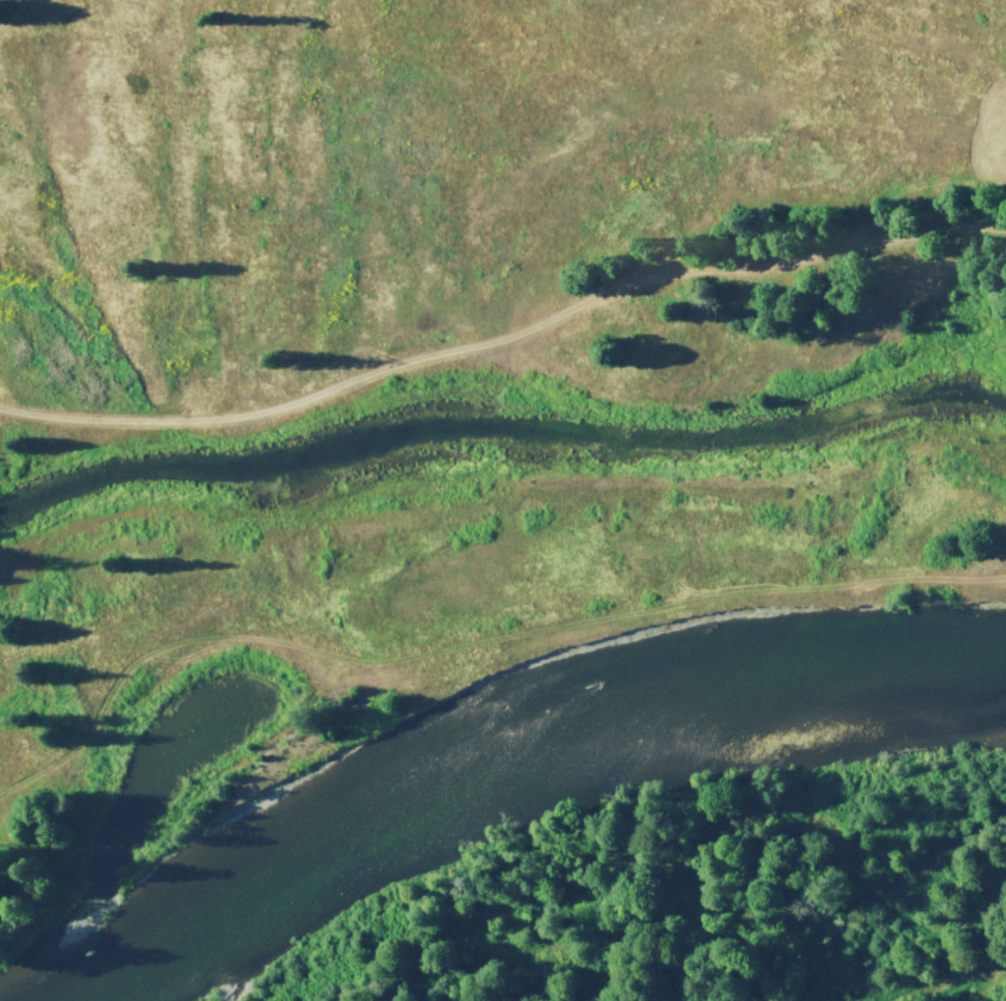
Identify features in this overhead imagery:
river: (524, 763)

